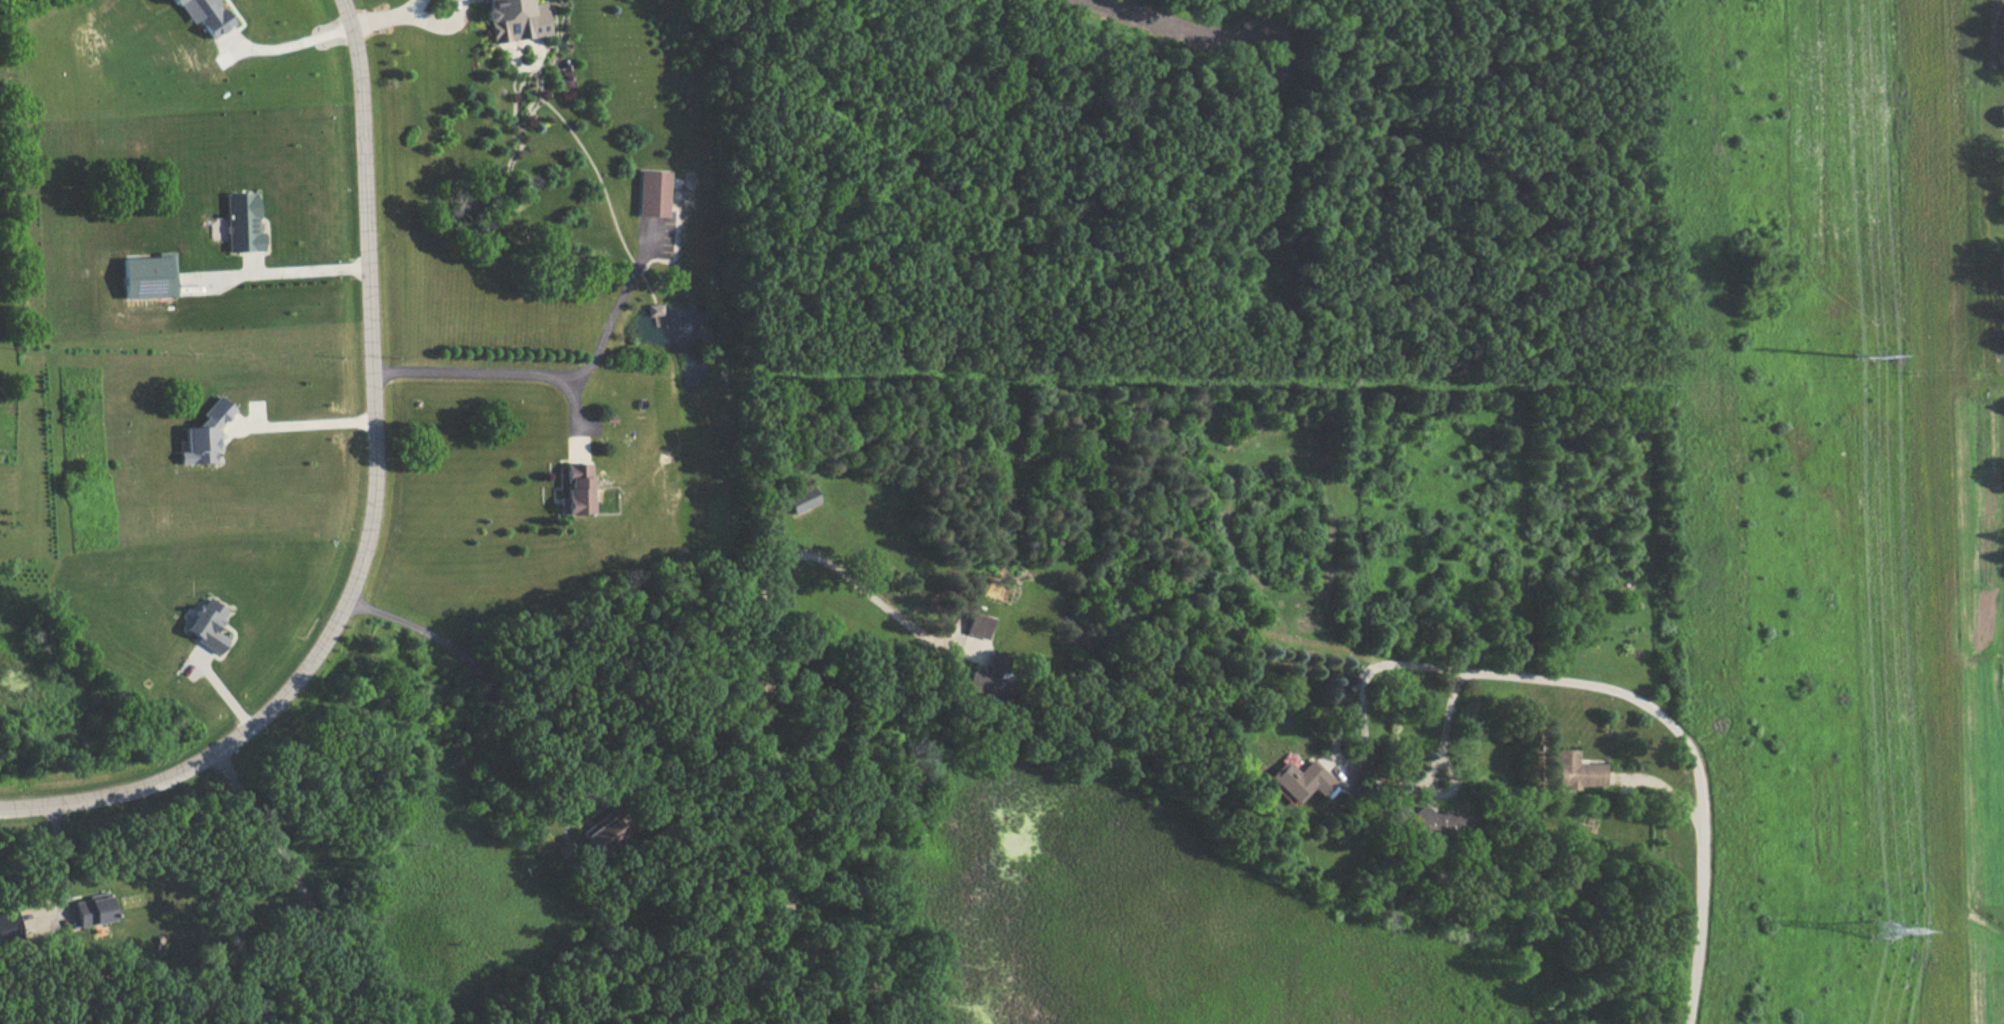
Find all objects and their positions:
road: (385, 18)
building: (514, 18)
road: (436, 24)
road: (285, 43)
building: (1998, 117)
building: (1932, 147)
road: (605, 192)
building: (651, 192)
building: (238, 229)
parking lot: (655, 236)
road: (250, 267)
road: (273, 274)
building: (143, 281)
road: (625, 284)
building: (654, 307)
pier: (657, 318)
power tower: (1859, 357)
road: (588, 367)
road: (472, 373)
road: (574, 407)
road: (256, 416)
road: (300, 426)
road: (585, 426)
road: (574, 447)
building: (568, 488)
building: (801, 501)
road: (371, 516)
building: (977, 627)
building: (205, 628)
road: (191, 667)
road: (763, 676)
road: (483, 681)
building: (988, 681)
road: (220, 692)
road: (1669, 726)
road: (1338, 759)
road: (1437, 760)
building: (1572, 771)
building: (1295, 780)
road: (1668, 781)
building: (604, 834)
road: (58, 859)
road: (296, 879)
building: (89, 913)
road: (53, 915)
power tower: (1882, 934)

